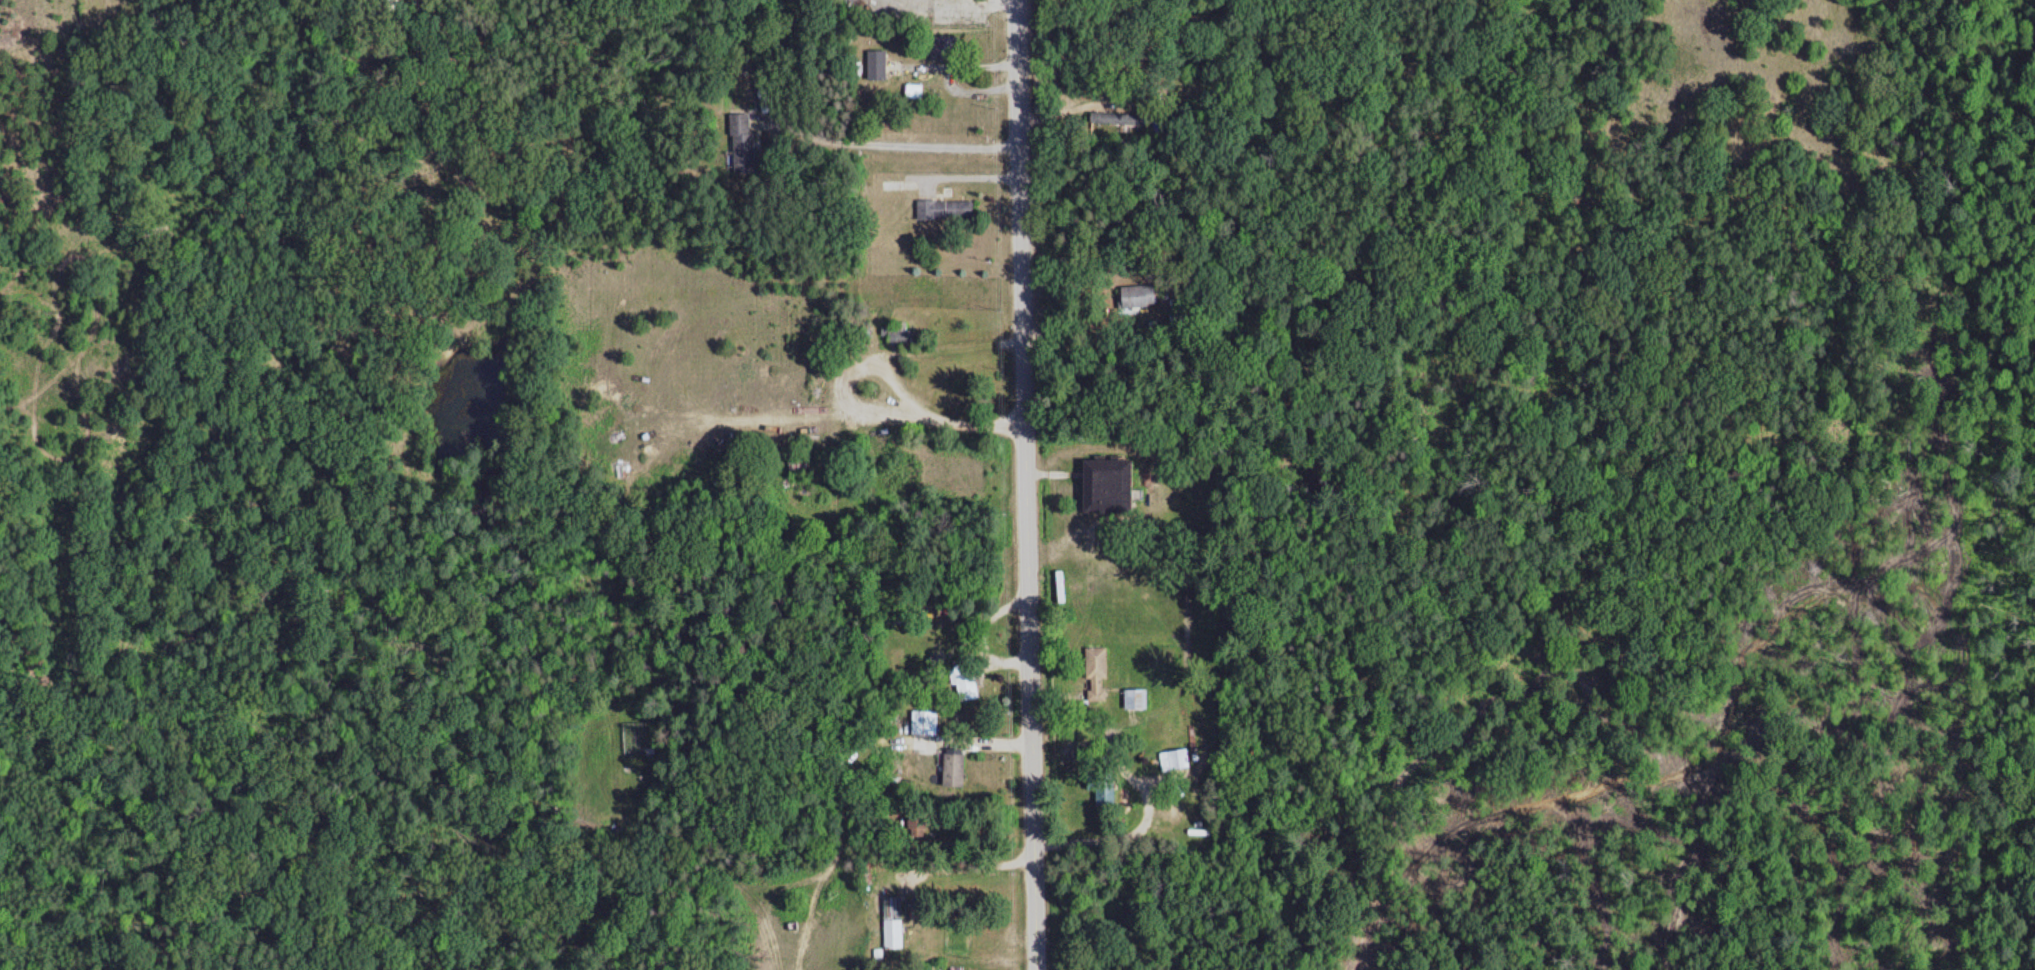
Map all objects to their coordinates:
building: (939, 49)
building: (874, 65)
building: (1119, 118)
building: (740, 139)
building: (942, 209)
building: (1147, 296)
building: (862, 330)
building: (894, 332)
building: (798, 456)
road: (1023, 485)
building: (1101, 487)
building: (1094, 674)
building: (961, 682)
building: (1133, 699)
building: (921, 723)
building: (1172, 759)
building: (951, 771)
road: (303, 784)
building: (1101, 789)
building: (891, 922)

